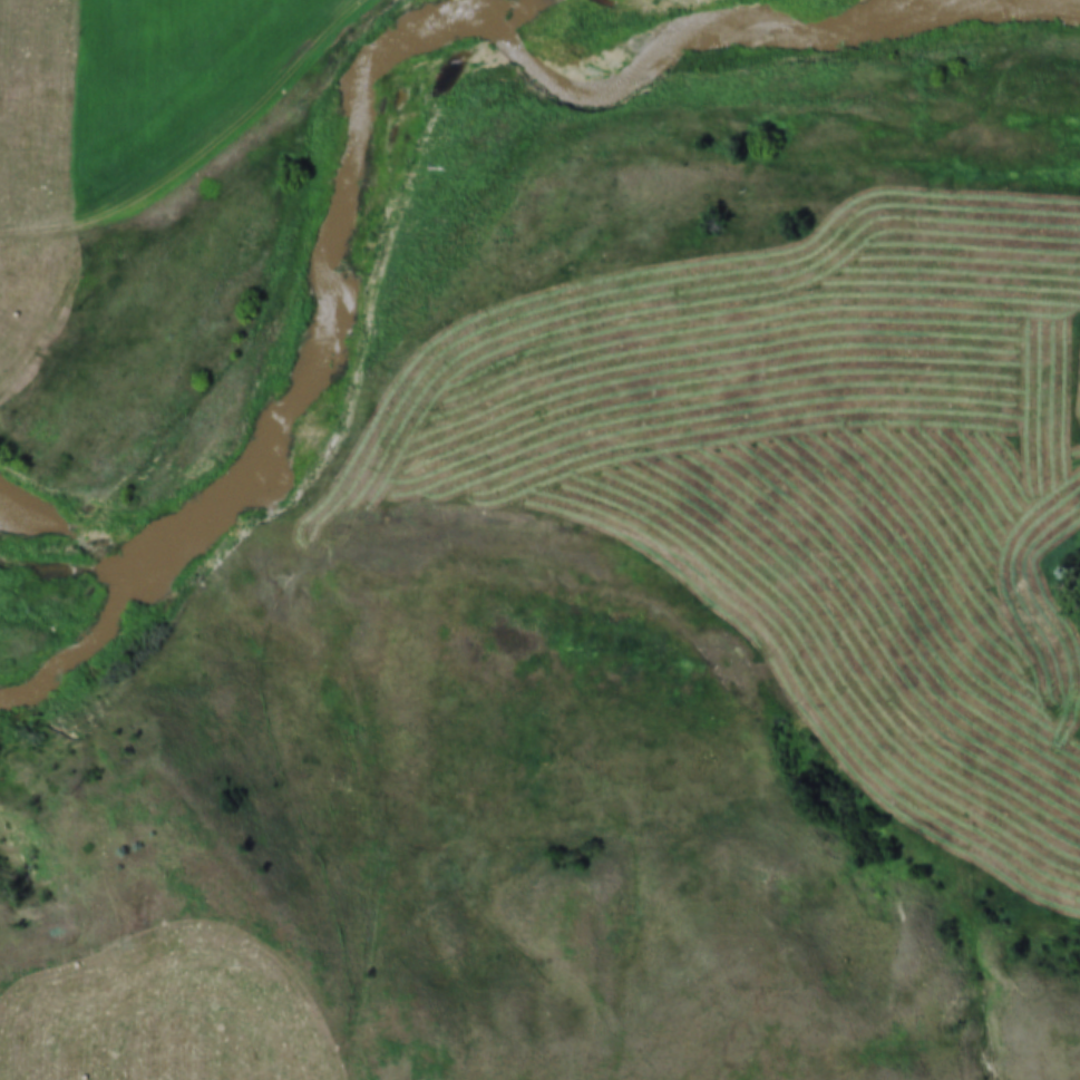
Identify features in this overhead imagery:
road: (256, 117)
river: (353, 154)

